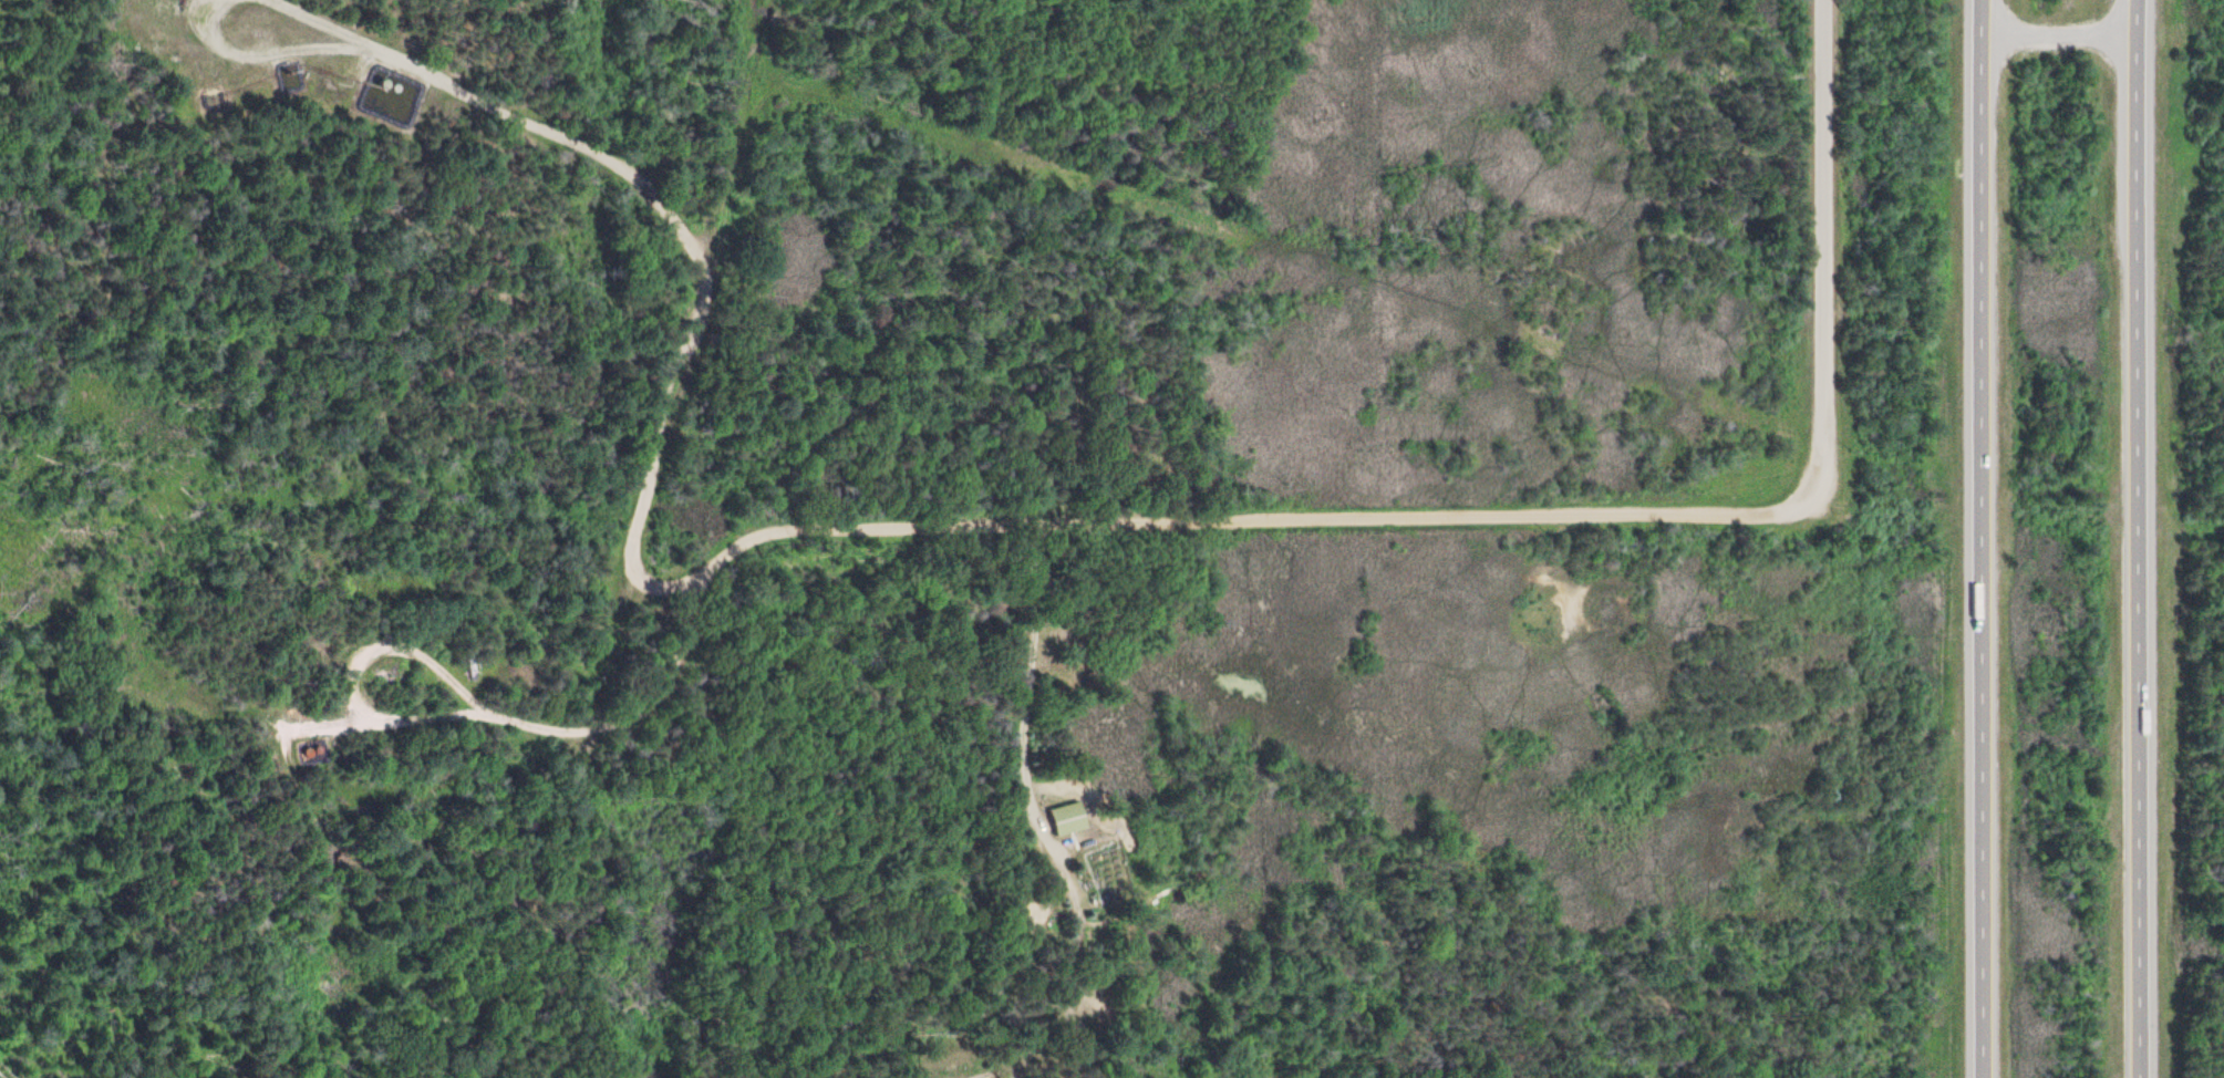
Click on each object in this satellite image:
road: (2041, 19)
road: (1804, 243)
road: (1131, 505)
road: (1962, 538)
road: (2123, 538)
building: (468, 670)
building: (1061, 821)

